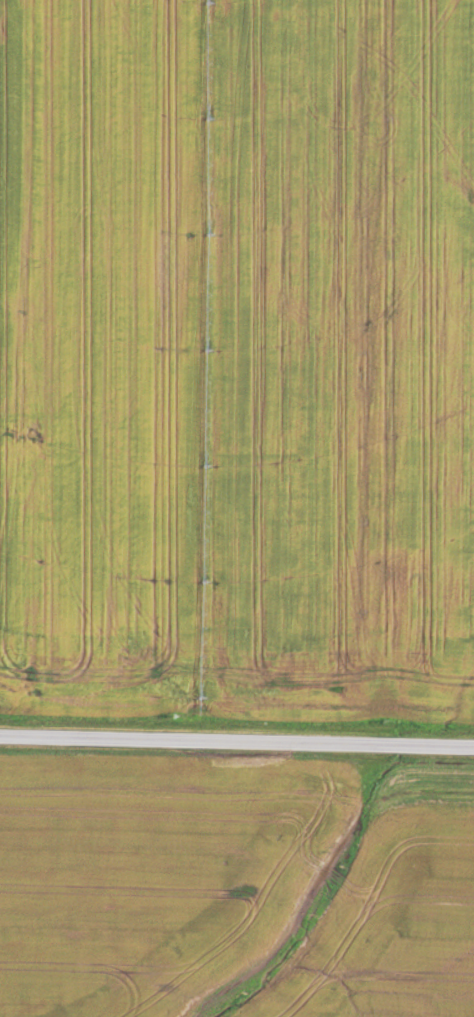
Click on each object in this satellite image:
road: (237, 743)

